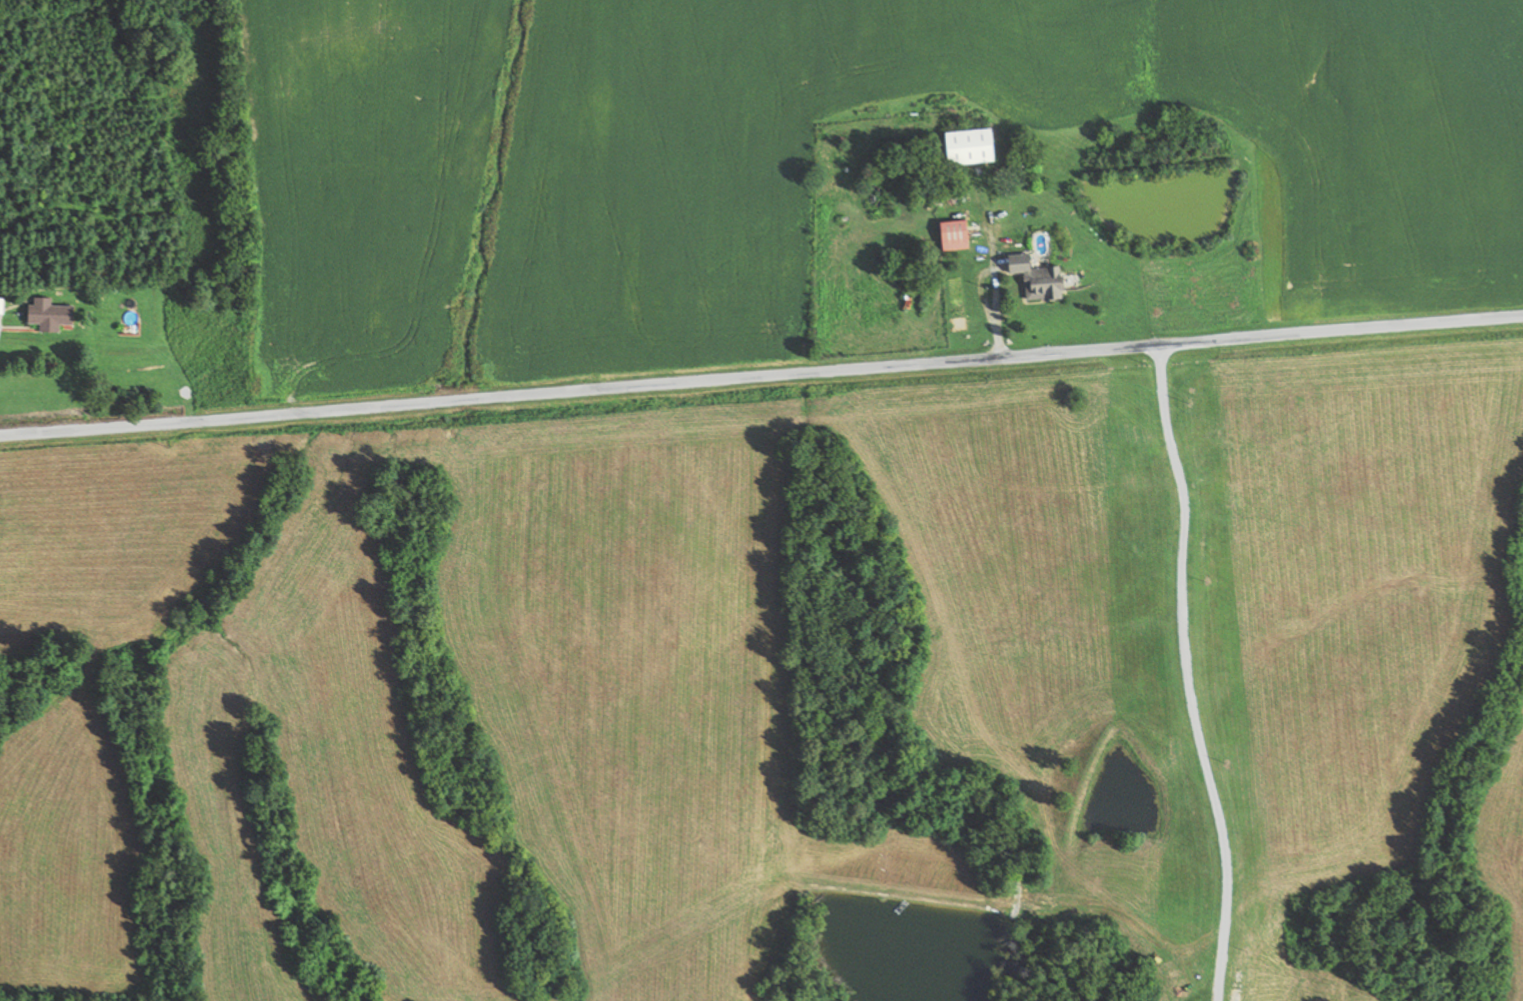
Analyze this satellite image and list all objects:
building: (964, 148)
building: (951, 236)
building: (1033, 279)
building: (3, 306)
building: (57, 317)
road: (761, 374)
road: (1196, 671)

